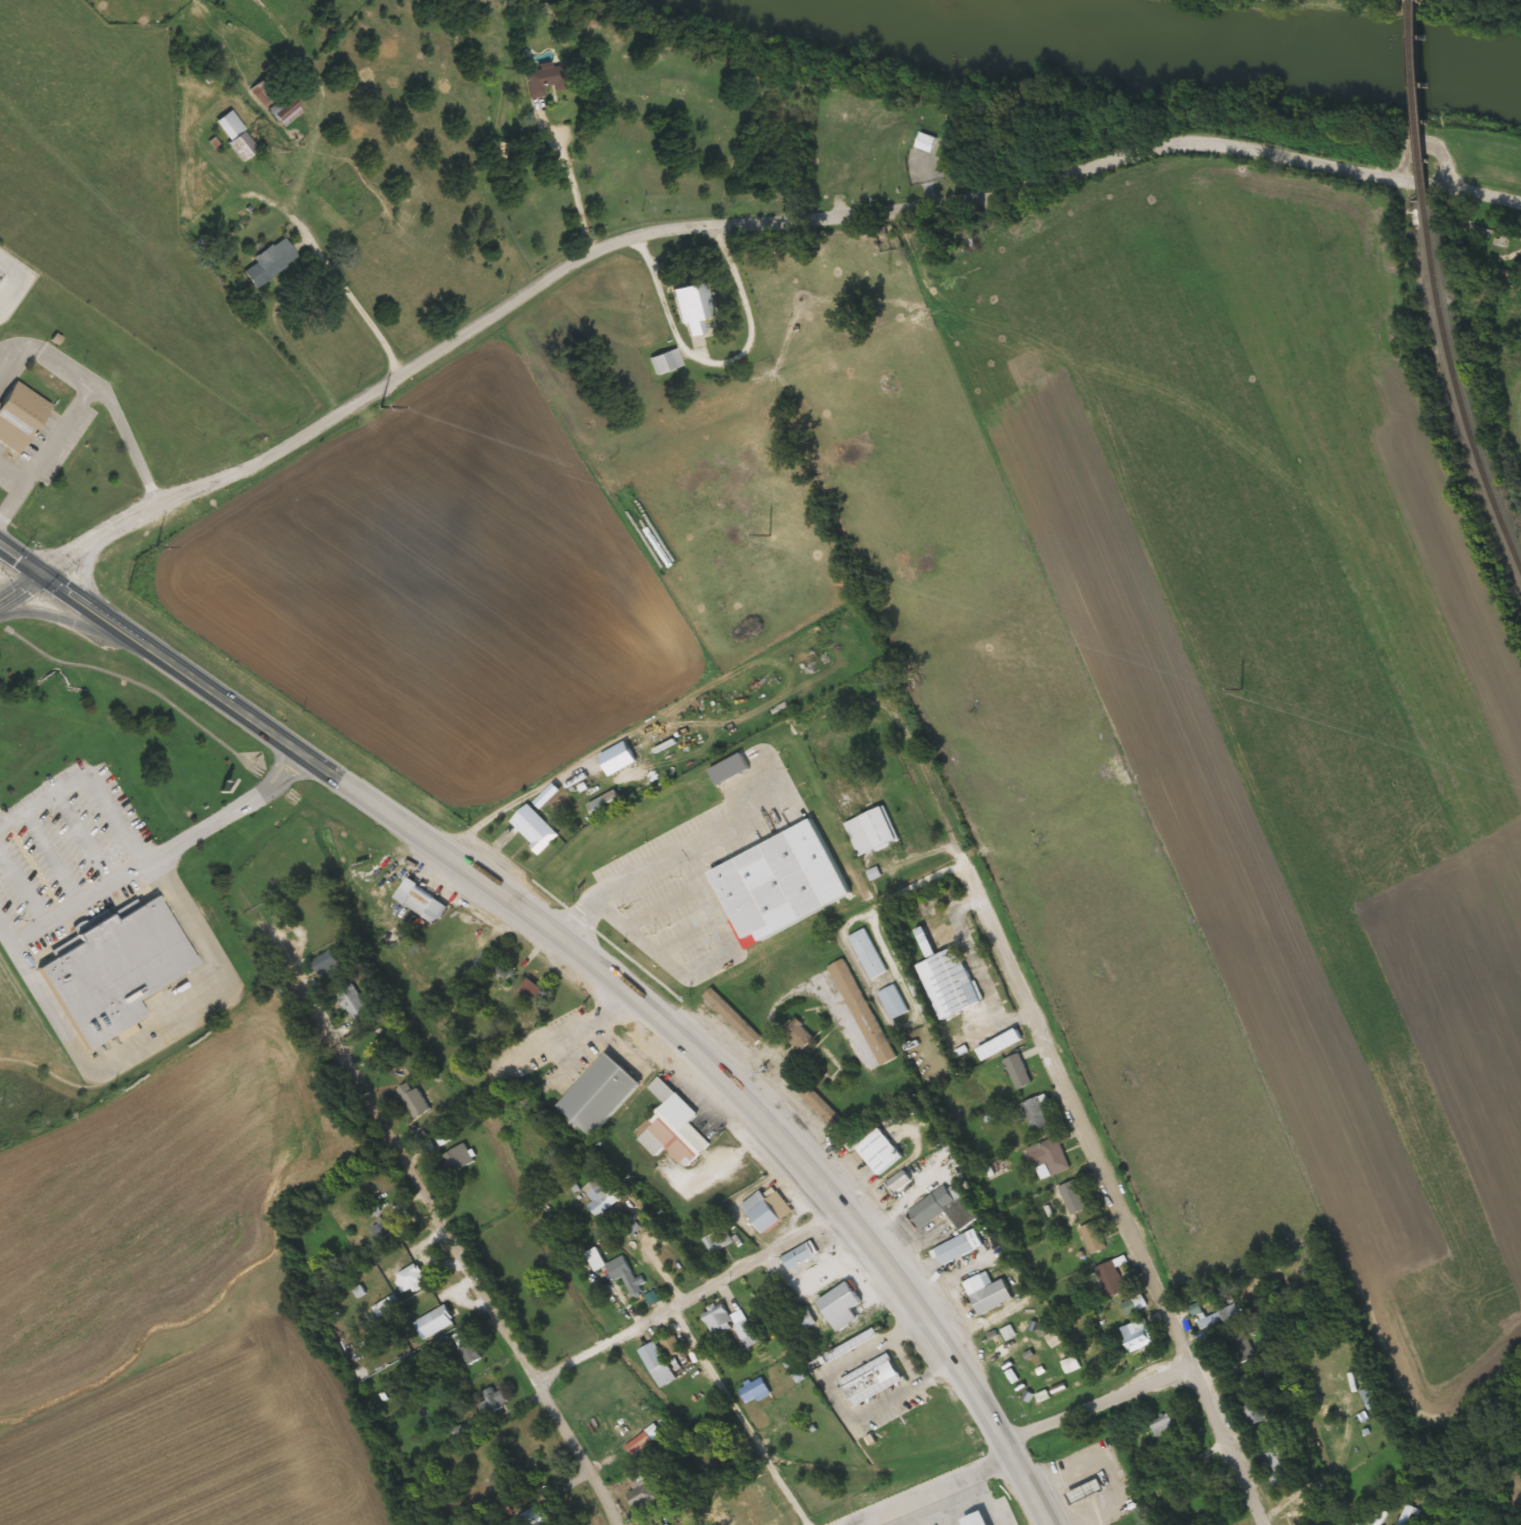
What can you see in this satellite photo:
river: (1160, 58)
building: (544, 80)
building: (266, 91)
railway: (1420, 100)
building: (287, 109)
building: (238, 134)
building: (929, 142)
road: (1484, 196)
road: (704, 221)
building: (273, 261)
building: (705, 301)
building: (693, 338)
building: (669, 361)
railway: (1458, 386)
power tower: (379, 406)
building: (22, 417)
power tower: (767, 535)
power tower: (155, 546)
traffic signals: (42, 574)
road: (21, 586)
road: (75, 624)
power tower: (1238, 688)
building: (622, 763)
road: (341, 778)
building: (608, 805)
building: (537, 828)
building: (873, 832)
road: (152, 858)
building: (776, 886)
building: (672, 895)
building: (421, 900)
building: (868, 954)
building: (484, 961)
building: (326, 962)
building: (505, 968)
building: (118, 972)
building: (946, 979)
building: (535, 993)
building: (894, 1002)
building: (353, 1006)
building: (864, 1012)
building: (736, 1018)
building: (801, 1035)
building: (1000, 1045)
building: (1016, 1072)
building: (602, 1095)
building: (414, 1101)
road: (1068, 1104)
building: (824, 1107)
building: (1036, 1114)
building: (674, 1127)
building: (881, 1152)
building: (1047, 1158)
building: (457, 1159)
road: (407, 1160)
building: (900, 1183)
building: (603, 1197)
building: (1072, 1198)
building: (947, 1209)
building: (770, 1211)
building: (386, 1226)
building: (1092, 1239)
building: (720, 1241)
building: (960, 1248)
building: (802, 1255)
building: (596, 1259)
road: (881, 1260)
building: (822, 1276)
building: (411, 1278)
building: (1110, 1280)
building: (636, 1285)
road: (690, 1290)
building: (989, 1292)
building: (844, 1305)
building: (1133, 1305)
building: (1228, 1316)
building: (732, 1327)
building: (1138, 1335)
building: (853, 1345)
building: (673, 1346)
building: (1243, 1347)
building: (468, 1348)
building: (658, 1364)
building: (872, 1380)
building: (755, 1391)
building: (1369, 1398)
building: (494, 1401)
building: (1257, 1410)
road: (737, 1414)
building: (1167, 1425)
road: (1012, 1444)
road: (581, 1453)
building: (1278, 1465)
building: (1190, 1475)
building: (641, 1490)
building: (1086, 1491)
building: (999, 1510)
building: (539, 1516)
building: (1381, 1518)
road: (849, 1523)

